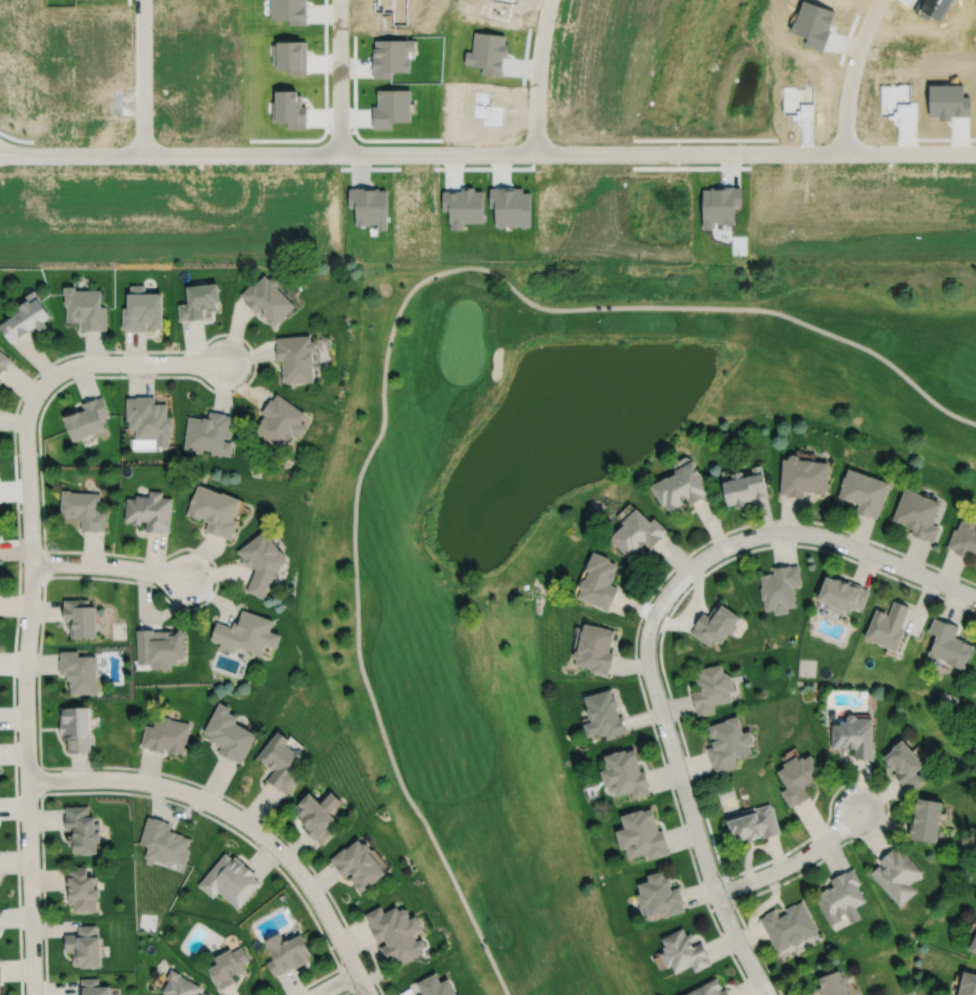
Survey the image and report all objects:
road: (850, 73)
road: (141, 75)
road: (537, 75)
road: (338, 76)
road: (487, 152)
building: (267, 296)
building: (198, 298)
building: (85, 305)
building: (142, 306)
building: (26, 314)
road: (386, 350)
building: (296, 355)
building: (3, 360)
road: (191, 362)
building: (86, 417)
building: (147, 420)
building: (280, 420)
building: (208, 431)
road: (38, 434)
building: (803, 474)
building: (746, 484)
building: (682, 485)
building: (864, 490)
building: (82, 507)
building: (149, 509)
building: (214, 509)
building: (919, 513)
park: (560, 524)
building: (637, 531)
road: (797, 531)
building: (964, 536)
building: (975, 553)
road: (729, 556)
building: (261, 560)
road: (44, 562)
road: (109, 565)
building: (599, 580)
building: (779, 587)
building: (843, 593)
building: (80, 617)
road: (638, 622)
building: (715, 623)
road: (27, 625)
building: (889, 625)
building: (247, 632)
building: (950, 643)
building: (160, 644)
building: (594, 647)
building: (79, 671)
building: (711, 688)
building: (602, 714)
building: (76, 727)
building: (229, 733)
building: (166, 735)
building: (855, 736)
building: (727, 743)
building: (282, 762)
building: (906, 765)
building: (624, 774)
building: (799, 778)
road: (40, 779)
road: (156, 796)
building: (319, 816)
road: (693, 816)
road: (239, 819)
building: (927, 820)
building: (755, 824)
building: (82, 830)
building: (641, 835)
building: (164, 842)
road: (836, 847)
road: (793, 862)
building: (359, 865)
building: (897, 874)
building: (231, 880)
building: (81, 890)
building: (659, 896)
building: (841, 897)
building: (788, 926)
building: (396, 934)
building: (84, 947)
building: (974, 948)
building: (681, 949)
building: (287, 953)
building: (229, 966)
road: (345, 978)
building: (832, 982)
building: (967, 982)
road: (334, 983)
building: (180, 985)
building: (436, 987)
building: (93, 988)
building: (706, 988)
road: (348, 990)

